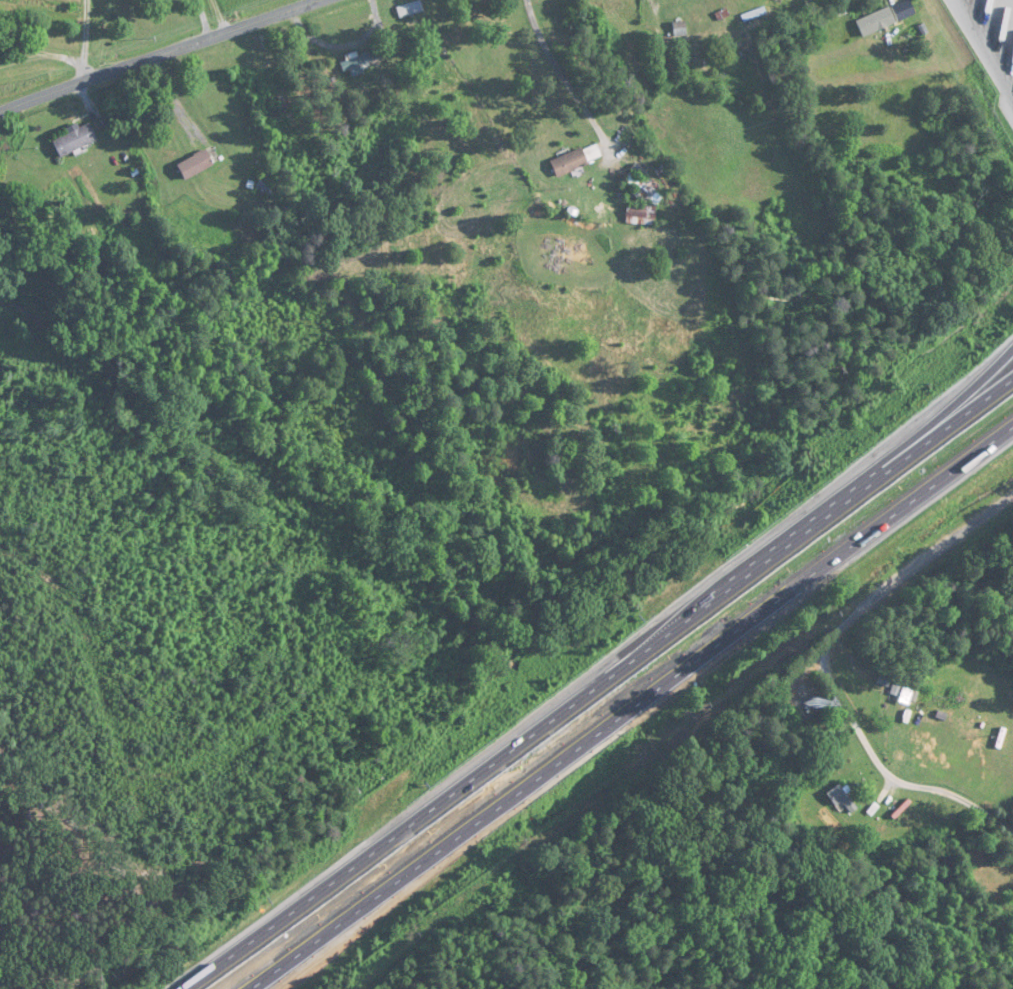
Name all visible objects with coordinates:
building: (404, 11)
road: (222, 18)
building: (876, 21)
parking lot: (989, 39)
road: (981, 55)
road: (165, 56)
building: (361, 59)
building: (669, 67)
road: (564, 77)
building: (75, 140)
building: (576, 159)
building: (195, 164)
building: (266, 188)
building: (640, 212)
road: (879, 452)
road: (921, 562)
road: (597, 678)
road: (629, 702)
road: (880, 766)
building: (842, 801)

